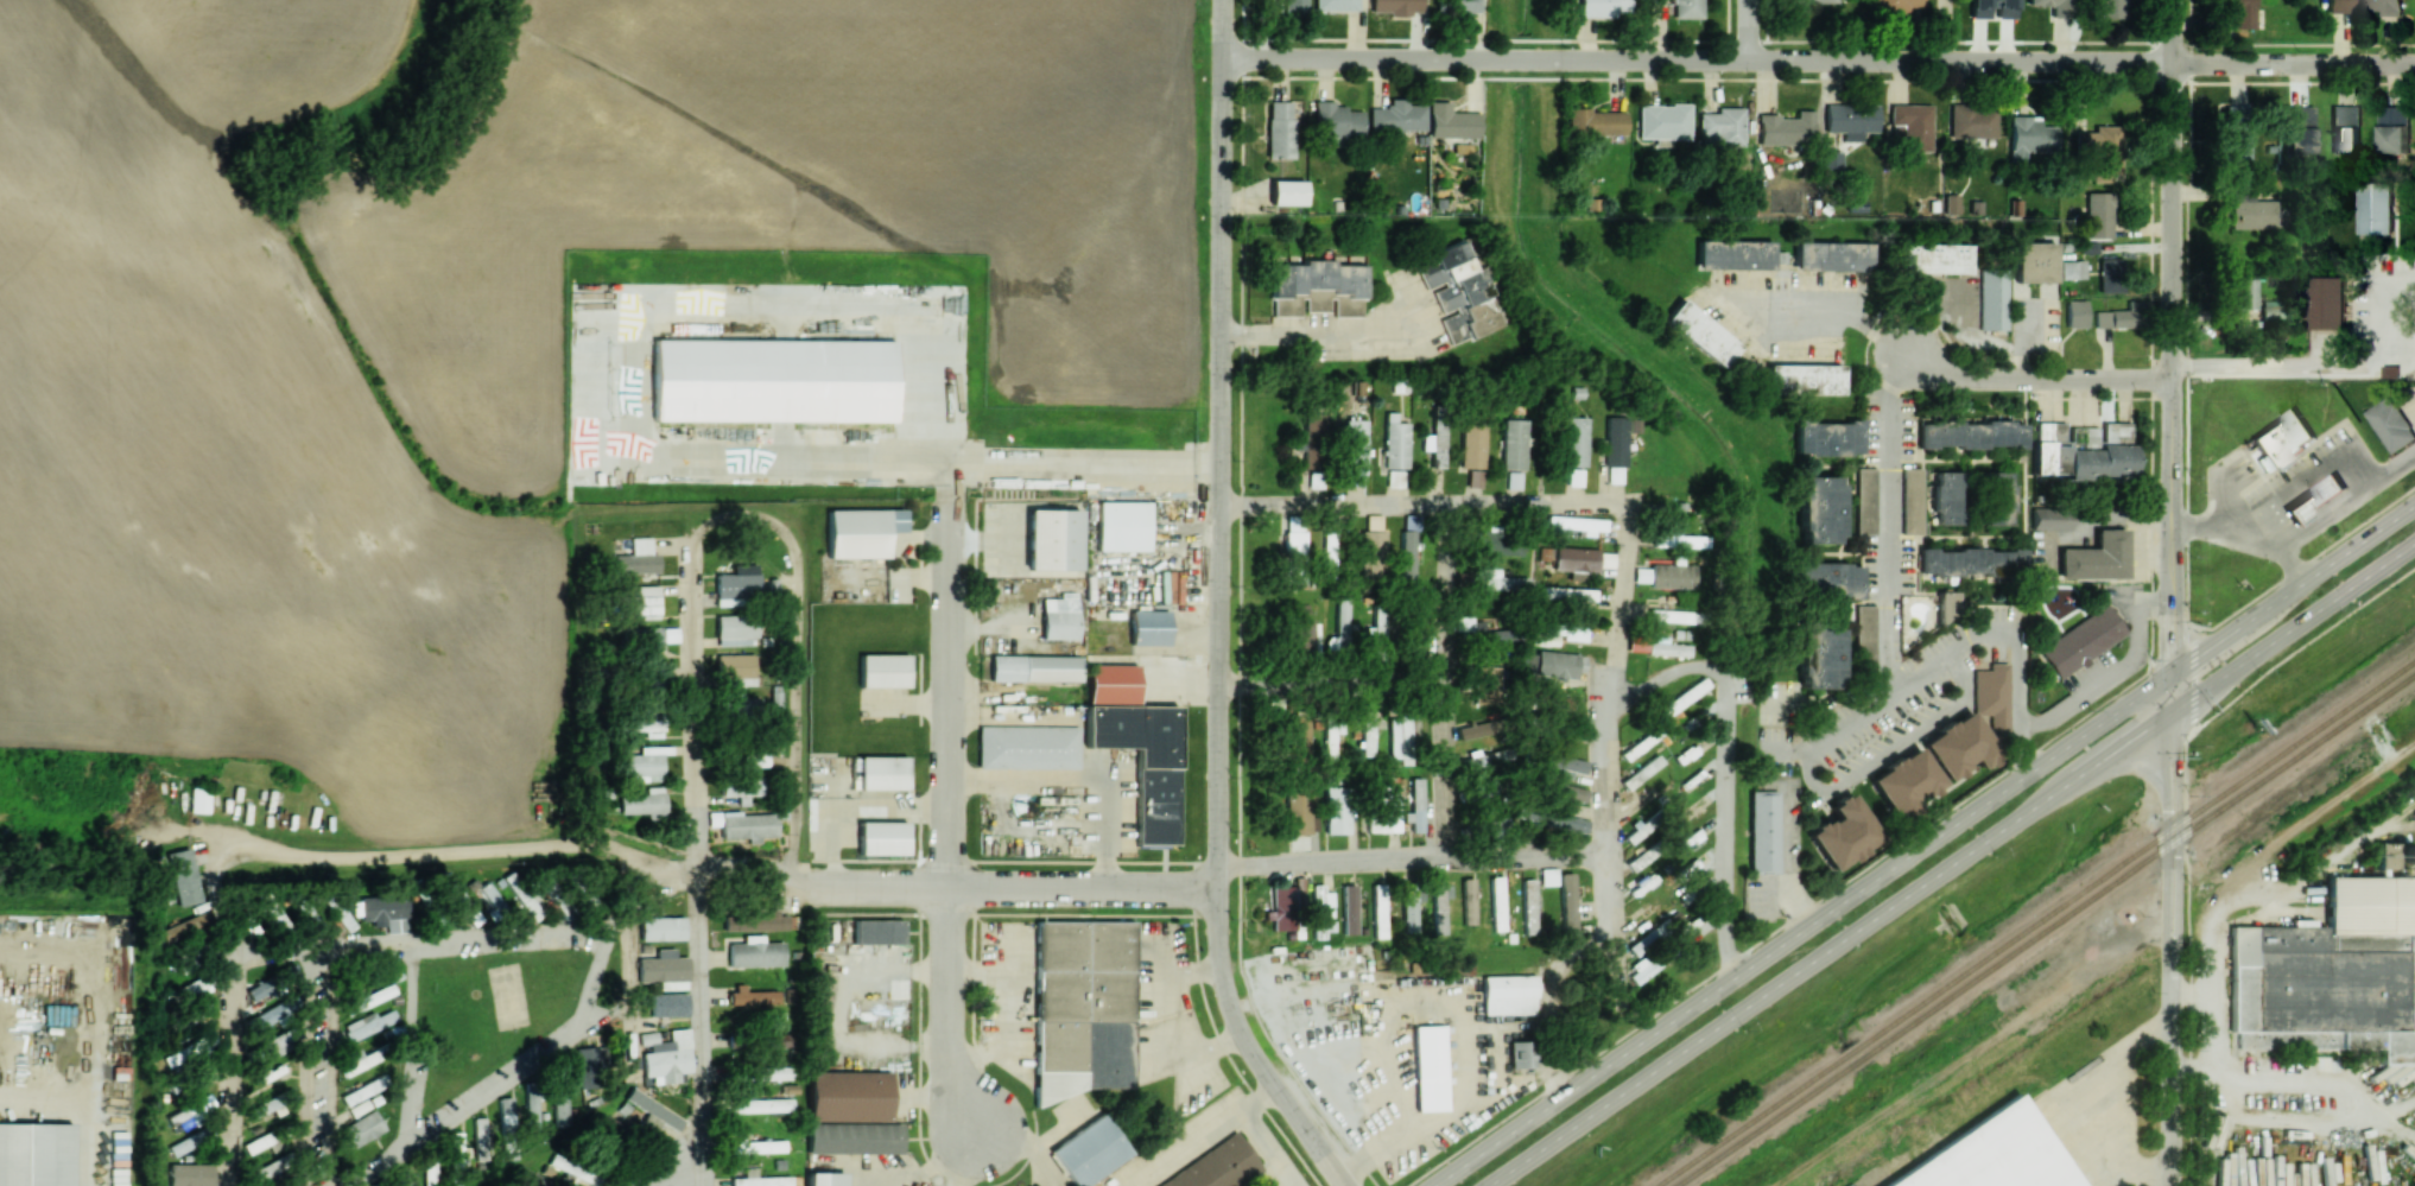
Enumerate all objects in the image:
building: (1814, 1)
building: (1335, 5)
building: (1895, 5)
building: (1294, 6)
building: (1395, 6)
building: (1458, 6)
building: (2338, 6)
building: (2383, 6)
building: (1603, 7)
building: (2053, 7)
building: (1688, 8)
building: (1992, 8)
building: (2109, 8)
building: (2240, 13)
road: (1749, 30)
road: (1697, 61)
road: (2292, 64)
building: (2235, 114)
building: (1395, 119)
building: (1851, 120)
building: (1337, 121)
building: (1451, 121)
building: (1663, 121)
building: (1972, 121)
building: (1596, 122)
building: (1722, 126)
building: (1910, 127)
building: (1279, 128)
building: (2297, 128)
building: (2345, 128)
building: (1786, 129)
building: (2394, 129)
building: (2029, 137)
building: (2233, 147)
building: (2100, 152)
building: (1830, 159)
building: (1287, 191)
building: (2376, 211)
building: (2250, 213)
building: (2098, 215)
building: (2087, 247)
building: (1733, 254)
building: (1832, 255)
building: (1929, 258)
building: (2034, 261)
building: (2072, 269)
building: (2111, 275)
building: (1317, 287)
building: (1456, 292)
building: (2244, 293)
building: (1992, 299)
building: (2330, 303)
road: (1820, 306)
building: (2075, 313)
building: (2121, 317)
road: (1312, 332)
building: (1700, 332)
road: (1973, 336)
road: (2170, 336)
road: (2328, 360)
road: (2033, 376)
building: (1804, 379)
building: (772, 380)
building: (2391, 424)
building: (1971, 433)
building: (1310, 435)
building: (1827, 438)
building: (2282, 438)
building: (1573, 440)
building: (1395, 442)
building: (1435, 443)
building: (1514, 444)
road: (596, 445)
building: (1472, 445)
building: (1615, 450)
building: (2083, 450)
building: (1355, 451)
building: (1475, 477)
building: (1395, 478)
building: (1514, 480)
road: (2307, 481)
building: (1944, 497)
building: (1997, 497)
building: (2314, 499)
building: (1912, 500)
building: (1864, 501)
road: (1422, 506)
building: (1819, 509)
road: (2330, 512)
road: (746, 515)
building: (2049, 519)
road: (2122, 519)
building: (1583, 524)
building: (1122, 525)
building: (861, 532)
road: (2224, 535)
building: (1676, 538)
building: (1052, 539)
building: (1294, 540)
building: (1498, 544)
building: (1373, 547)
building: (1330, 551)
building: (2097, 557)
building: (636, 558)
building: (1408, 558)
building: (1576, 562)
building: (1971, 563)
building: (1672, 576)
building: (1826, 579)
building: (1497, 581)
building: (736, 588)
building: (1567, 594)
building: (642, 601)
building: (1947, 604)
road: (1219, 610)
building: (1671, 615)
building: (1059, 619)
building: (1340, 627)
building: (1148, 628)
building: (735, 629)
building: (1565, 629)
building: (1301, 635)
building: (646, 636)
building: (1864, 638)
building: (2081, 641)
building: (1666, 647)
road: (1887, 649)
building: (1819, 654)
building: (1559, 664)
building: (735, 665)
building: (1034, 667)
building: (883, 670)
traffic signals: (2170, 672)
road: (1663, 673)
road: (2117, 674)
road: (949, 676)
road: (2194, 676)
building: (646, 679)
road: (1332, 680)
road: (1445, 680)
building: (1487, 685)
building: (1694, 689)
building: (1991, 697)
building: (1559, 702)
building: (734, 704)
road: (1809, 704)
traffic signals: (2170, 711)
building: (644, 727)
building: (1476, 729)
building: (1370, 731)
building: (1298, 736)
building: (1332, 740)
building: (1403, 740)
building: (1137, 746)
building: (1027, 747)
building: (1957, 747)
road: (1604, 750)
road: (1787, 754)
building: (756, 755)
building: (1484, 760)
building: (1561, 763)
building: (640, 765)
building: (882, 773)
road: (1079, 778)
road: (1849, 778)
building: (1903, 782)
building: (741, 787)
building: (1568, 792)
building: (198, 799)
building: (645, 803)
building: (1415, 805)
building: (1388, 807)
building: (1337, 810)
road: (855, 811)
building: (1300, 813)
building: (1557, 819)
road: (2183, 819)
road: (1726, 822)
building: (747, 825)
building: (1494, 826)
building: (1763, 831)
building: (1636, 832)
building: (1843, 832)
road: (1913, 833)
building: (881, 837)
road: (1922, 844)
building: (2394, 854)
road: (280, 855)
road: (1412, 858)
building: (1640, 858)
road: (1786, 862)
road: (1951, 863)
building: (183, 876)
building: (1548, 876)
road: (1009, 886)
road: (645, 887)
building: (521, 894)
building: (492, 896)
building: (1469, 901)
building: (461, 902)
building: (1497, 902)
building: (1567, 902)
building: (1286, 903)
building: (1439, 903)
building: (1409, 906)
building: (1529, 906)
building: (1320, 908)
building: (1349, 908)
building: (381, 909)
building: (1380, 911)
building: (310, 915)
building: (754, 921)
railway: (2033, 921)
building: (661, 927)
building: (185, 928)
railway: (2043, 928)
road: (2172, 928)
building: (876, 931)
road: (417, 943)
building: (755, 952)
building: (1643, 968)
building: (664, 969)
building: (1508, 994)
building: (753, 995)
building: (373, 997)
building: (668, 1004)
building: (1083, 1007)
road: (2212, 1009)
building: (273, 1011)
road: (945, 1011)
building: (367, 1023)
road: (697, 1028)
road: (1171, 1028)
road: (414, 1040)
building: (779, 1040)
building: (278, 1041)
building: (1521, 1053)
building: (666, 1055)
building: (361, 1060)
building: (590, 1066)
road: (321, 1067)
building: (1428, 1067)
building: (765, 1072)
building: (363, 1090)
road: (476, 1092)
road: (2362, 1103)
building: (759, 1104)
building: (559, 1106)
building: (653, 1110)
road: (2113, 1111)
building: (506, 1112)
building: (850, 1112)
building: (531, 1115)
building: (606, 1127)
building: (362, 1128)
road: (1198, 1135)
building: (481, 1137)
building: (186, 1142)
building: (759, 1146)
road: (1270, 1146)
building: (509, 1149)
building: (1089, 1150)
building: (1994, 1153)
building: (36, 1154)
building: (455, 1156)
building: (1217, 1167)
building: (270, 1168)
building: (190, 1174)
building: (430, 1174)
building: (759, 1179)
building: (825, 1179)
road: (691, 1181)

